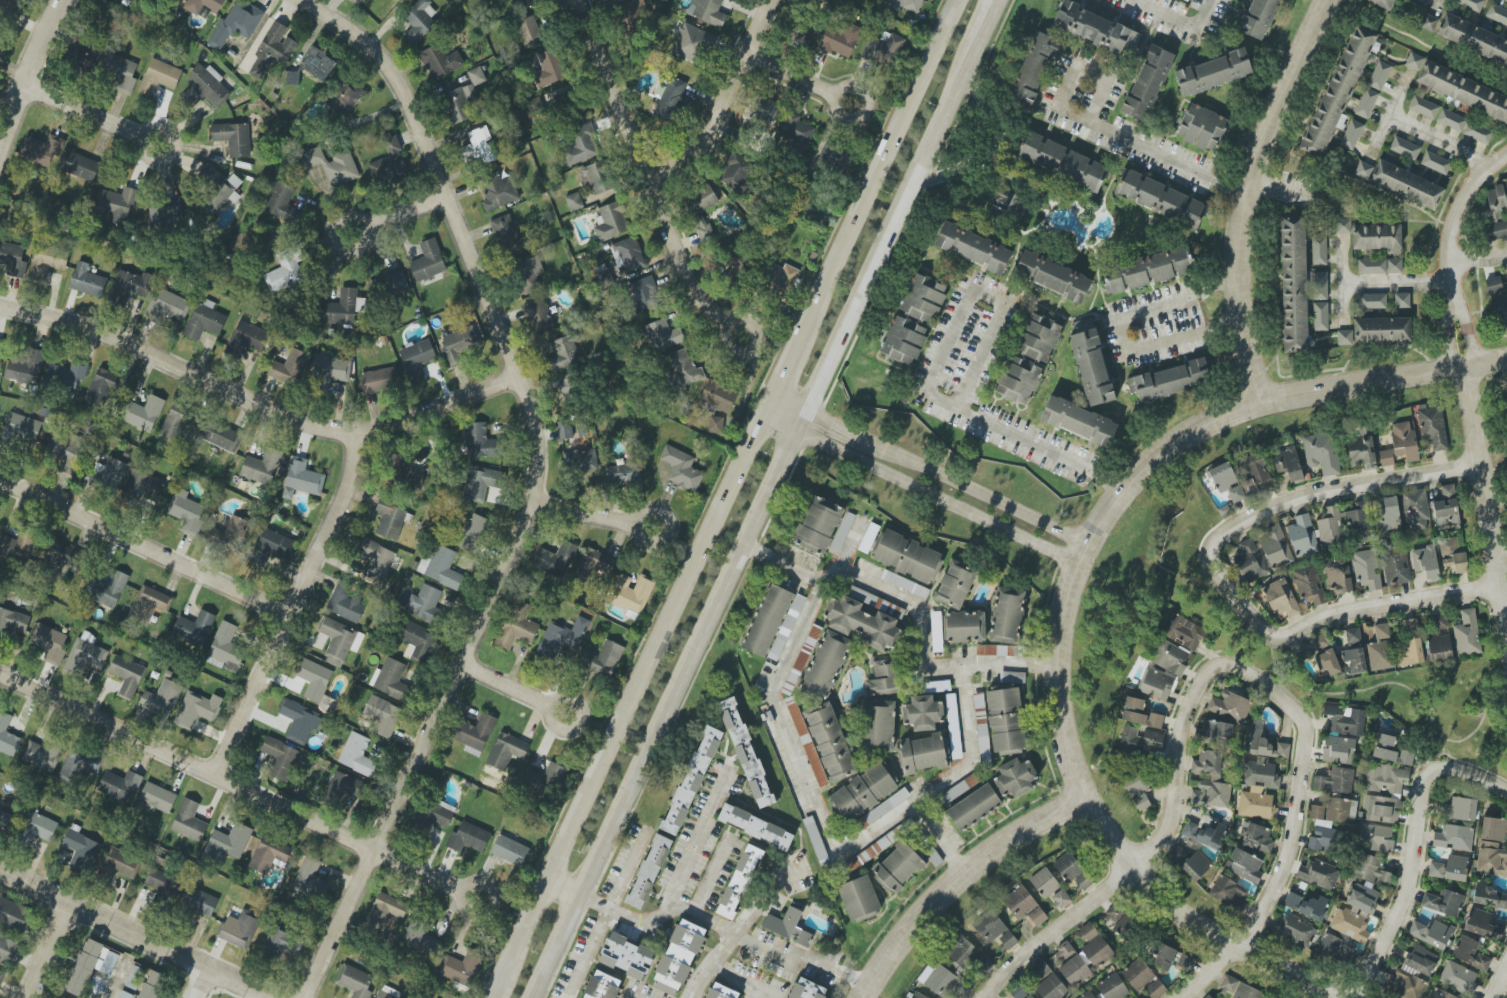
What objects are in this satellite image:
building: (1193, 0)
building: (1421, 1)
building: (357, 2)
building: (525, 3)
building: (1384, 3)
building: (11, 4)
building: (1471, 4)
building: (204, 5)
building: (904, 5)
road: (1438, 7)
building: (707, 11)
building: (633, 12)
building: (1497, 14)
building: (1259, 18)
road: (1177, 19)
building: (420, 20)
road: (985, 22)
building: (1428, 22)
building: (236, 23)
building: (1096, 29)
building: (529, 32)
building: (806, 34)
building: (840, 39)
building: (1473, 39)
building: (691, 42)
building: (883, 49)
building: (272, 50)
building: (81, 53)
building: (439, 61)
building: (1413, 61)
building: (317, 63)
building: (549, 69)
building: (1032, 70)
building: (119, 72)
building: (1213, 72)
road: (32, 75)
building: (1379, 75)
road: (789, 76)
building: (159, 77)
building: (1147, 83)
building: (206, 87)
building: (1463, 90)
building: (1338, 92)
building: (345, 96)
building: (464, 97)
building: (670, 99)
road: (725, 101)
building: (1366, 103)
building: (537, 107)
building: (1423, 107)
building: (762, 110)
road: (832, 110)
road: (83, 113)
road: (1387, 114)
building: (1451, 120)
building: (1201, 127)
road: (1080, 130)
building: (795, 131)
building: (1477, 133)
building: (1351, 135)
building: (233, 138)
road: (1436, 141)
building: (581, 145)
road: (982, 145)
building: (479, 147)
building: (1404, 148)
building: (40, 150)
road: (140, 150)
building: (835, 157)
building: (1062, 161)
building: (1435, 163)
building: (389, 164)
building: (79, 165)
building: (333, 165)
road: (646, 167)
building: (1364, 171)
building: (737, 174)
building: (596, 178)
building: (1407, 185)
building: (216, 188)
road: (1274, 188)
building: (499, 191)
road: (1241, 194)
building: (1160, 199)
building: (573, 201)
building: (281, 202)
building: (1006, 203)
building: (117, 205)
building: (700, 208)
building: (163, 212)
building: (1494, 212)
road: (405, 213)
building: (610, 222)
building: (1341, 226)
building: (506, 233)
road: (366, 237)
building: (1376, 238)
building: (973, 247)
building: (1319, 251)
road: (1449, 251)
building: (628, 254)
building: (12, 259)
building: (47, 260)
road: (1478, 260)
building: (428, 261)
building: (737, 264)
building: (1380, 266)
building: (286, 269)
building: (1147, 270)
building: (529, 274)
building: (1053, 276)
building: (1506, 276)
building: (780, 279)
building: (87, 280)
road: (1340, 280)
road: (1395, 283)
building: (390, 284)
building: (1294, 285)
building: (129, 286)
building: (1319, 286)
building: (644, 295)
building: (1402, 300)
building: (1498, 301)
building: (1372, 302)
building: (168, 306)
building: (343, 308)
building: (538, 315)
building: (1320, 316)
building: (913, 319)
building: (205, 320)
road: (726, 326)
road: (1121, 331)
building: (1376, 331)
building: (663, 335)
building: (246, 338)
building: (460, 342)
building: (1, 344)
building: (563, 352)
building: (416, 359)
building: (1028, 359)
building: (25, 366)
building: (1092, 367)
building: (290, 368)
building: (332, 369)
building: (683, 370)
building: (65, 375)
road: (933, 376)
road: (1484, 376)
building: (379, 380)
building: (1171, 380)
road: (1384, 381)
building: (573, 386)
building: (101, 387)
building: (718, 396)
road: (258, 406)
building: (143, 413)
road: (777, 416)
building: (1080, 422)
building: (175, 423)
building: (715, 425)
building: (1432, 426)
building: (19, 429)
building: (564, 430)
park: (1498, 433)
building: (222, 436)
building: (482, 442)
building: (1400, 444)
building: (66, 448)
building: (1362, 449)
building: (1321, 452)
building: (580, 461)
building: (1287, 463)
building: (262, 466)
building: (681, 469)
road: (1492, 470)
building: (406, 472)
building: (110, 473)
building: (1254, 473)
road: (938, 474)
building: (623, 475)
building: (302, 479)
building: (481, 482)
building: (1226, 482)
building: (141, 485)
road: (534, 486)
road: (1317, 493)
road: (718, 497)
road: (927, 499)
road: (1482, 504)
building: (1446, 508)
building: (1415, 510)
building: (186, 512)
road: (583, 514)
building: (1389, 514)
building: (390, 519)
road: (750, 519)
building: (818, 525)
building: (1344, 525)
building: (842, 531)
building: (231, 532)
road: (639, 533)
building: (474, 534)
building: (1302, 536)
building: (17, 546)
building: (271, 547)
building: (1275, 547)
road: (848, 548)
road: (144, 550)
building: (1453, 555)
building: (906, 556)
road: (1073, 557)
building: (61, 559)
building: (555, 559)
building: (376, 560)
building: (1251, 562)
building: (1425, 562)
building: (592, 565)
building: (1395, 566)
building: (440, 567)
building: (1366, 568)
building: (1337, 576)
building: (904, 584)
building: (955, 584)
building: (1309, 585)
building: (106, 589)
building: (631, 593)
building: (1280, 598)
building: (345, 602)
road: (913, 603)
building: (149, 604)
building: (425, 604)
road: (294, 609)
road: (1348, 612)
building: (1007, 615)
building: (767, 620)
building: (1441, 621)
building: (12, 623)
building: (862, 623)
building: (517, 625)
building: (1410, 625)
building: (786, 627)
building: (965, 627)
building: (193, 628)
building: (936, 631)
building: (1184, 632)
building: (1467, 633)
building: (562, 637)
building: (339, 641)
building: (417, 642)
building: (49, 643)
building: (1320, 644)
building: (225, 648)
building: (1380, 649)
building: (1408, 652)
building: (1353, 653)
building: (85, 655)
building: (603, 659)
building: (1327, 663)
building: (825, 665)
building: (1163, 671)
building: (127, 676)
building: (883, 678)
building: (1013, 678)
building: (390, 679)
building: (316, 683)
road: (505, 684)
building: (161, 698)
road: (966, 701)
building: (1230, 706)
building: (979, 707)
building: (196, 709)
building: (922, 713)
building: (1140, 714)
building: (383, 715)
road: (547, 720)
building: (1005, 720)
building: (299, 721)
building: (878, 726)
building: (1213, 732)
building: (1257, 732)
building: (475, 734)
building: (7, 736)
building: (1139, 740)
building: (823, 743)
building: (1338, 750)
building: (1390, 750)
building: (506, 751)
building: (745, 753)
building: (924, 753)
building: (40, 755)
building: (357, 755)
road: (799, 756)
building: (280, 758)
building: (1207, 763)
building: (79, 765)
building: (548, 778)
building: (1015, 778)
building: (691, 780)
building: (1335, 781)
building: (116, 787)
road: (240, 789)
building: (342, 789)
building: (1258, 789)
building: (1138, 791)
building: (863, 792)
building: (1395, 793)
building: (1211, 794)
building: (156, 798)
building: (974, 807)
building: (882, 809)
building: (1460, 809)
building: (435, 814)
building: (5, 821)
building: (188, 821)
building: (1329, 823)
building: (755, 826)
building: (37, 828)
building: (1493, 829)
building: (1204, 833)
building: (1375, 837)
building: (470, 838)
building: (1257, 838)
building: (1453, 838)
road: (1161, 840)
building: (227, 843)
road: (696, 844)
building: (80, 849)
building: (510, 850)
road: (1292, 850)
road: (1416, 850)
building: (269, 855)
building: (1178, 856)
building: (1491, 859)
building: (119, 865)
building: (1196, 866)
building: (1245, 866)
building: (897, 867)
building: (1449, 868)
building: (1370, 869)
building: (649, 871)
building: (1072, 871)
road: (623, 872)
building: (1318, 874)
road: (712, 877)
road: (956, 878)
building: (310, 879)
building: (739, 882)
building: (1044, 882)
building: (1229, 893)
building: (1488, 896)
building: (1363, 897)
building: (1061, 898)
building: (859, 899)
building: (199, 901)
building: (1443, 902)
building: (1024, 905)
building: (1307, 905)
building: (385, 910)
building: (14, 915)
building: (1113, 915)
road: (1195, 917)
road: (642, 921)
building: (1481, 924)
building: (1349, 925)
building: (990, 926)
building: (788, 927)
building: (1127, 927)
road: (742, 928)
building: (238, 929)
building: (1295, 930)
building: (1431, 933)
road: (135, 934)
building: (421, 940)
building: (1008, 940)
building: (282, 944)
building: (1095, 946)
building: (1332, 948)
building: (7, 950)
road: (49, 950)
road: (587, 952)
building: (1063, 952)
road: (782, 953)
building: (1470, 953)
building: (627, 956)
building: (967, 957)
building: (1164, 957)
building: (678, 958)
building: (1184, 963)
building: (90, 966)
building: (462, 967)
building: (1075, 970)
building: (1412, 973)
building: (1137, 974)
building: (1, 977)
building: (1457, 977)
road: (117, 979)
building: (938, 980)
building: (354, 981)
building: (1047, 982)
road: (203, 984)
road: (1500, 984)
building: (153, 985)
road: (741, 985)
building: (601, 986)
building: (1112, 987)
building: (1239, 988)
building: (806, 989)
building: (1155, 989)
building: (963, 990)
building: (721, 992)
building: (1020, 992)
road: (247, 993)
building: (1440, 994)
building: (919, 995)
building: (1087, 995)
building: (1209, 997)

